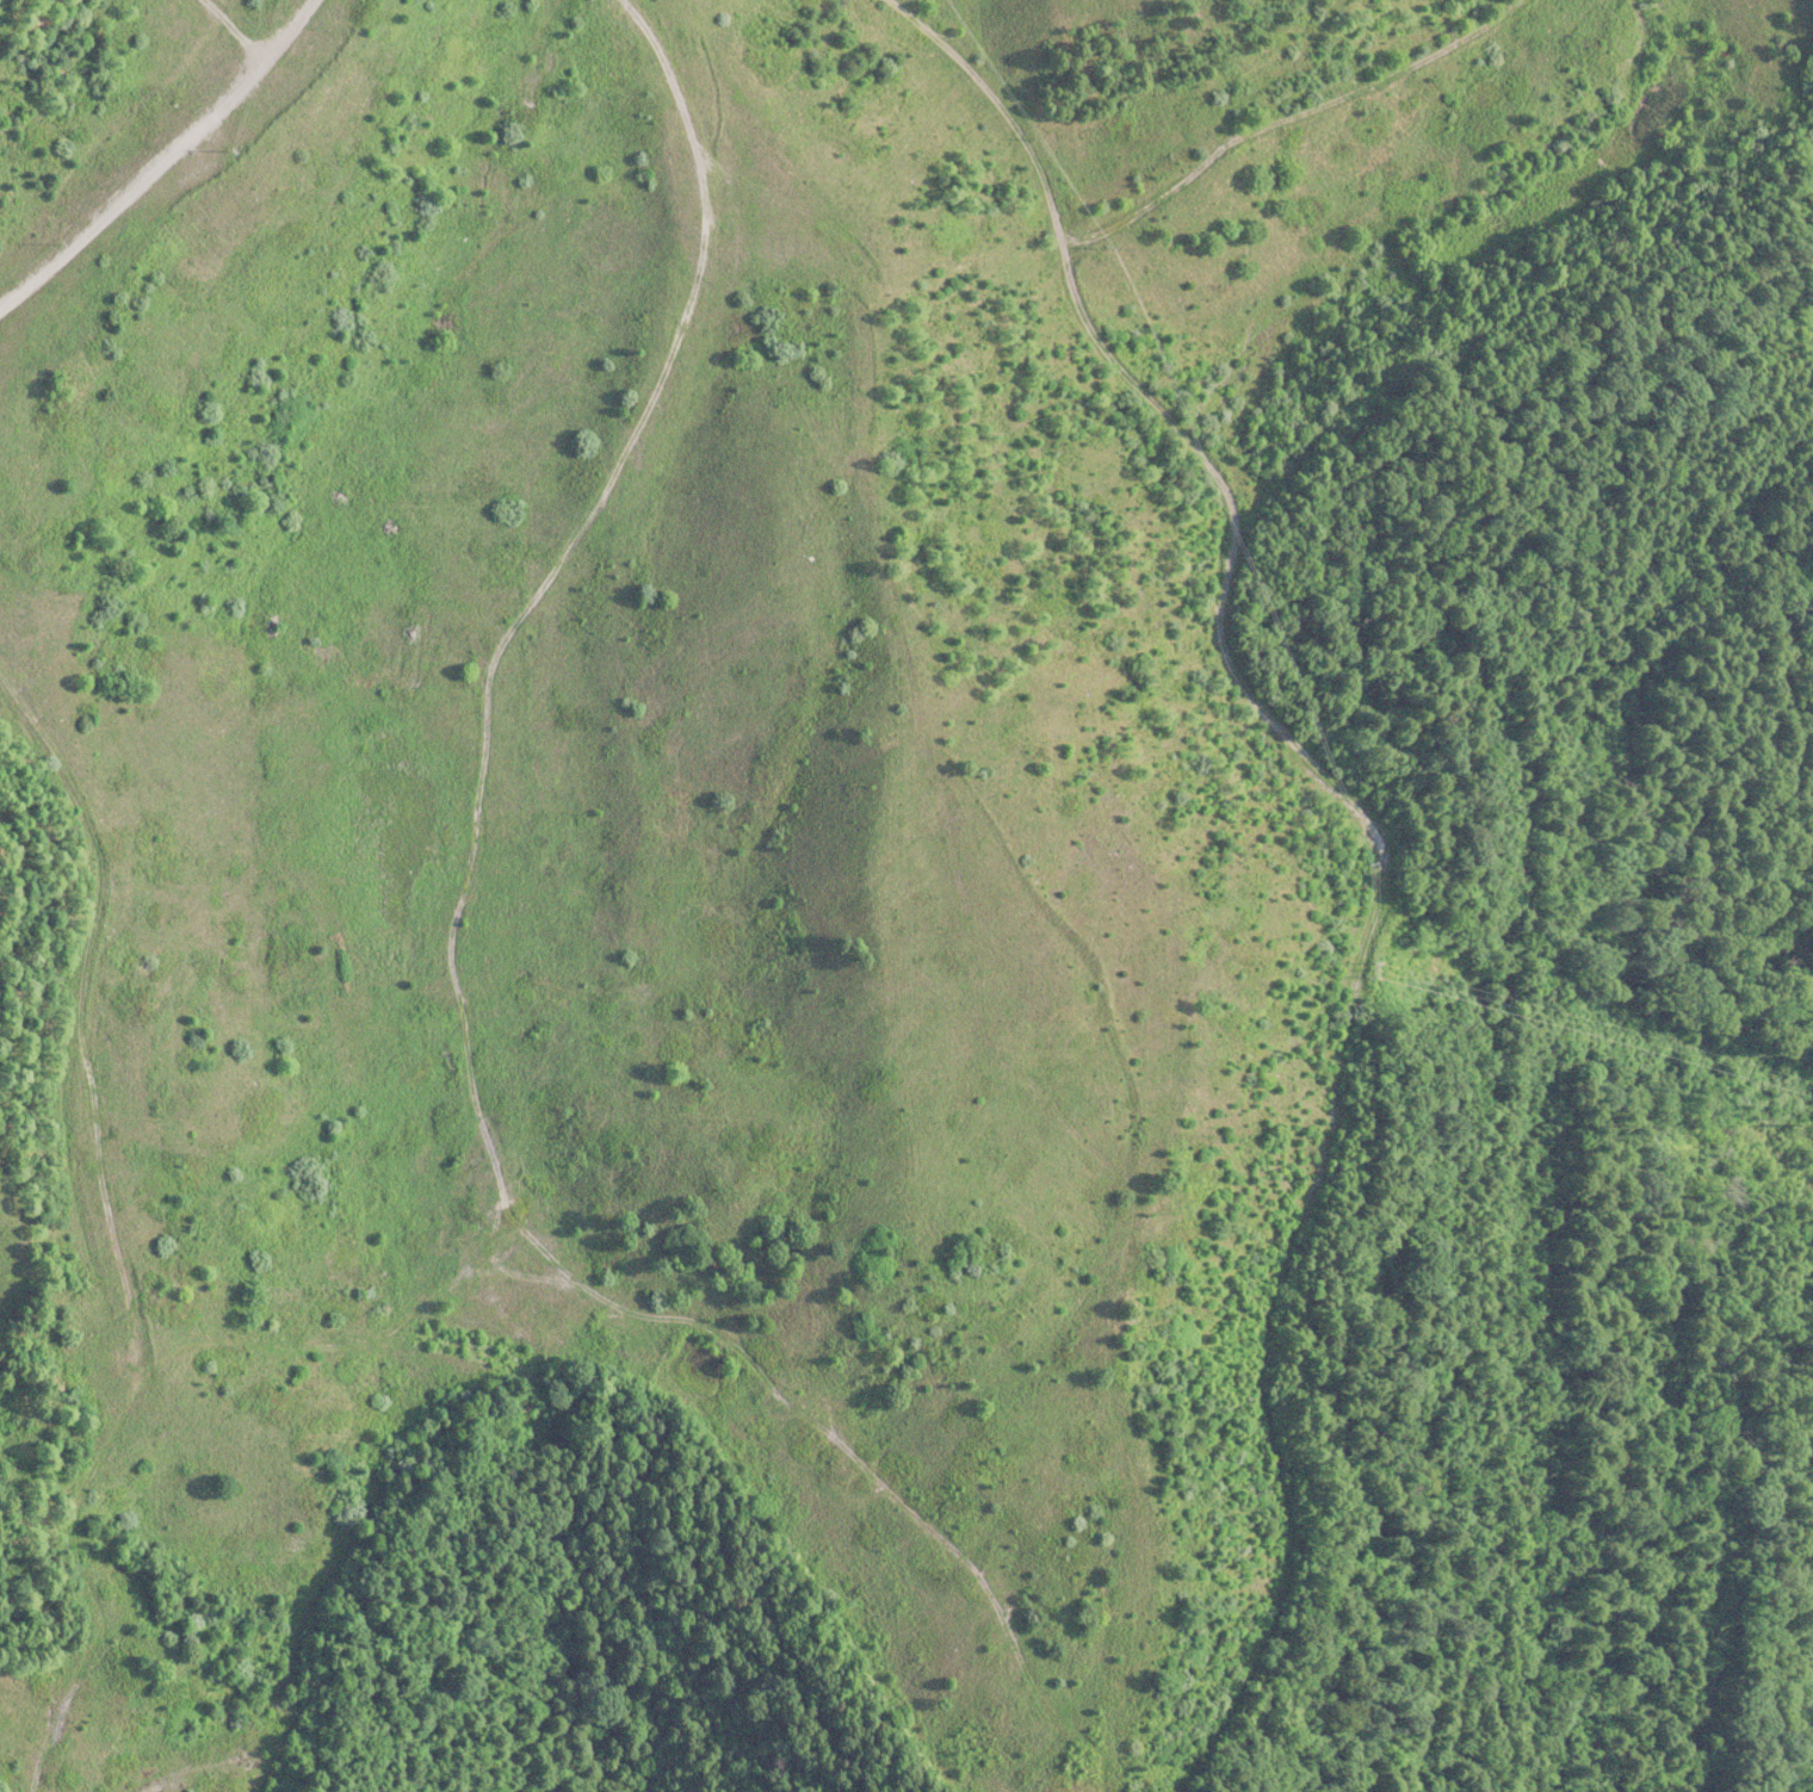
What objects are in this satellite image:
quarry: (709, 794)

